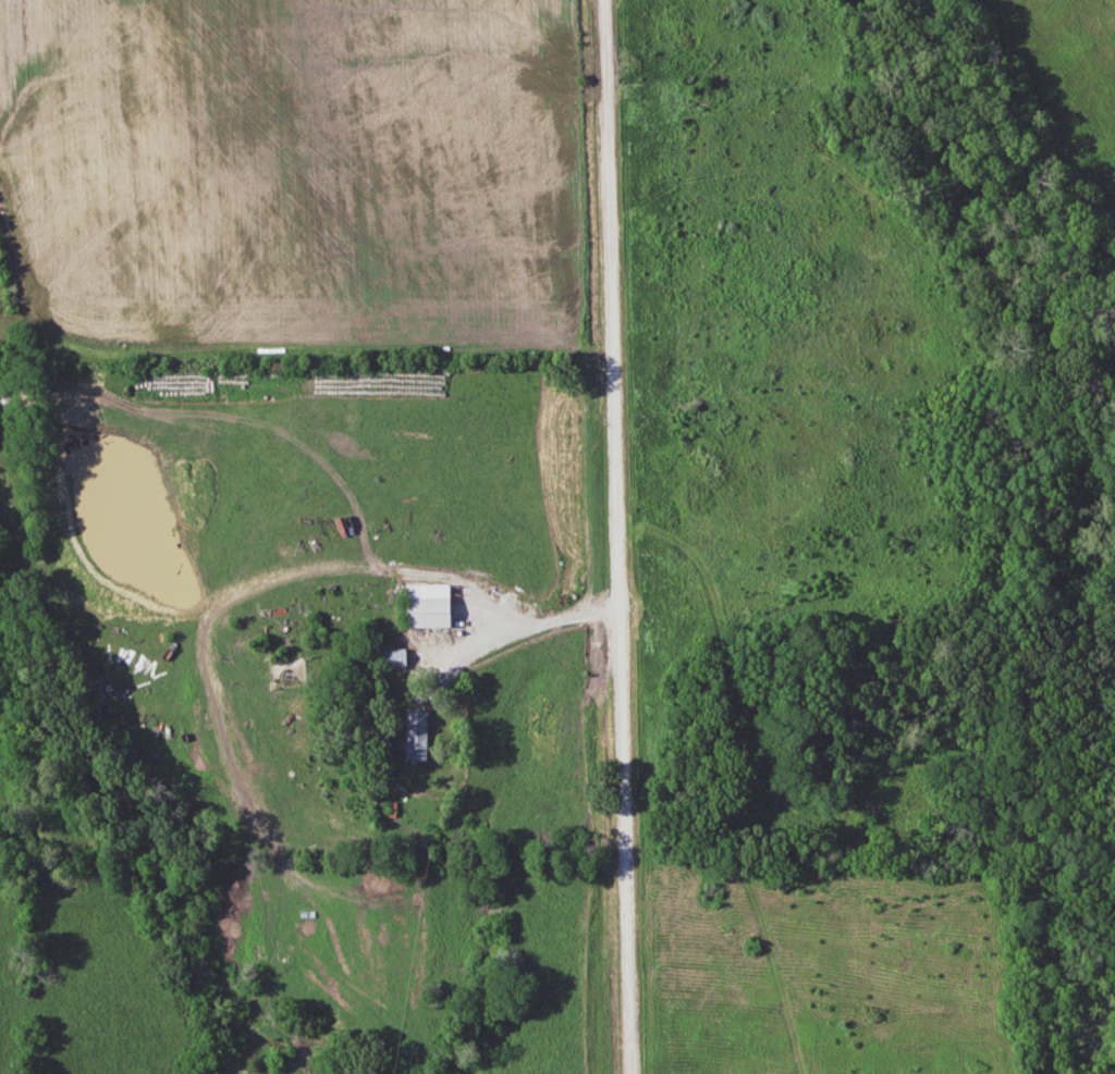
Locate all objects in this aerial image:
road: (614, 536)
building: (433, 612)
road: (506, 644)
building: (393, 658)
building: (417, 734)
building: (377, 806)

